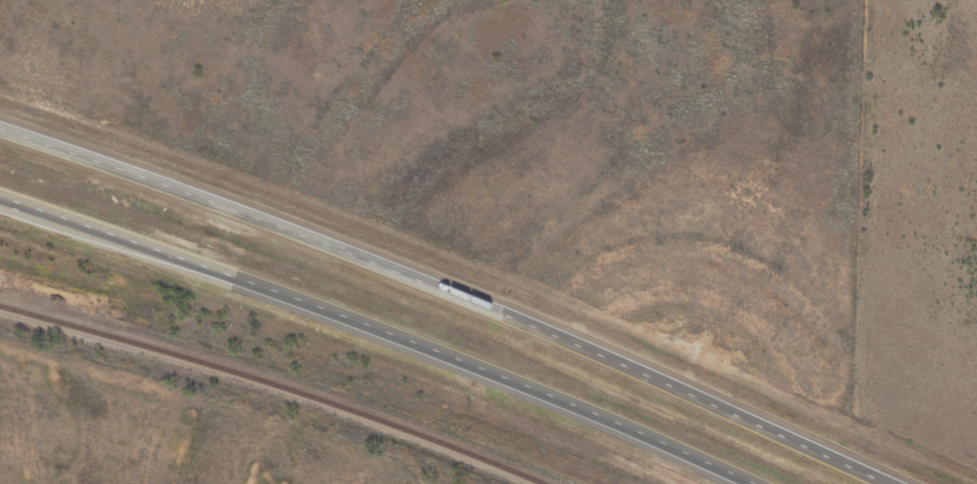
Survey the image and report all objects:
road: (237, 135)
road: (230, 199)
road: (227, 271)
railway: (272, 386)
road: (675, 386)
road: (599, 419)

